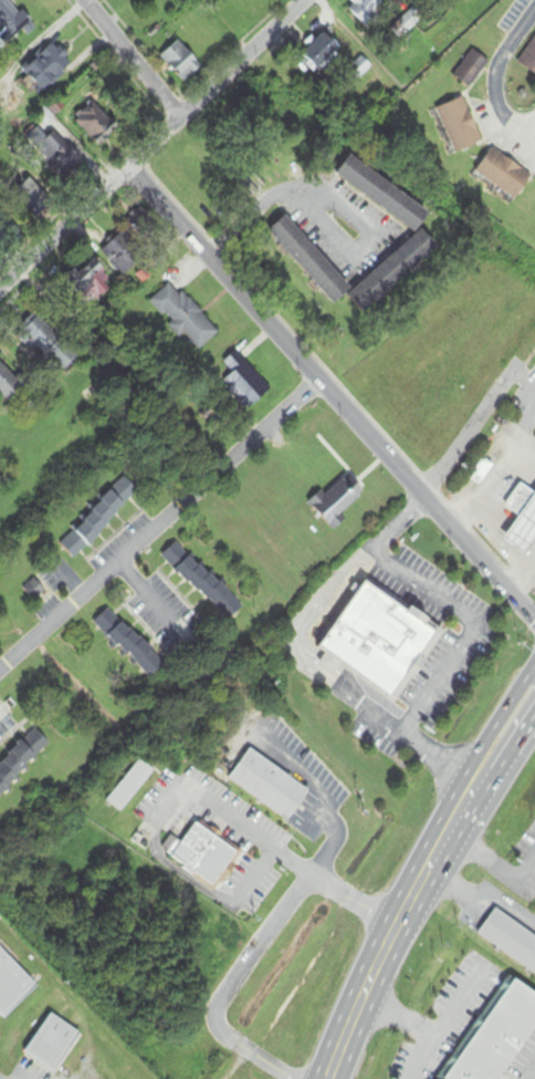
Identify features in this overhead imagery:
building: (366, 12)
building: (10, 22)
building: (322, 53)
road: (135, 55)
building: (528, 59)
building: (181, 62)
building: (52, 65)
building: (471, 70)
road: (491, 76)
building: (460, 127)
building: (101, 129)
road: (529, 132)
road: (153, 145)
building: (56, 155)
building: (504, 175)
building: (32, 198)
road: (241, 221)
building: (413, 237)
building: (122, 256)
building: (311, 262)
building: (92, 286)
building: (183, 317)
building: (46, 346)
building: (244, 383)
building: (9, 385)
road: (331, 397)
road: (531, 408)
road: (472, 418)
road: (526, 443)
road: (506, 466)
building: (481, 474)
building: (337, 502)
building: (521, 504)
building: (99, 520)
road: (158, 525)
building: (522, 526)
road: (487, 528)
road: (518, 567)
building: (202, 583)
building: (380, 643)
building: (129, 645)
building: (21, 760)
building: (270, 786)
building: (130, 787)
building: (203, 855)
road: (417, 876)
road: (338, 893)
building: (510, 941)
road: (245, 964)
building: (12, 984)
road: (415, 1024)
building: (496, 1036)
building: (53, 1042)

